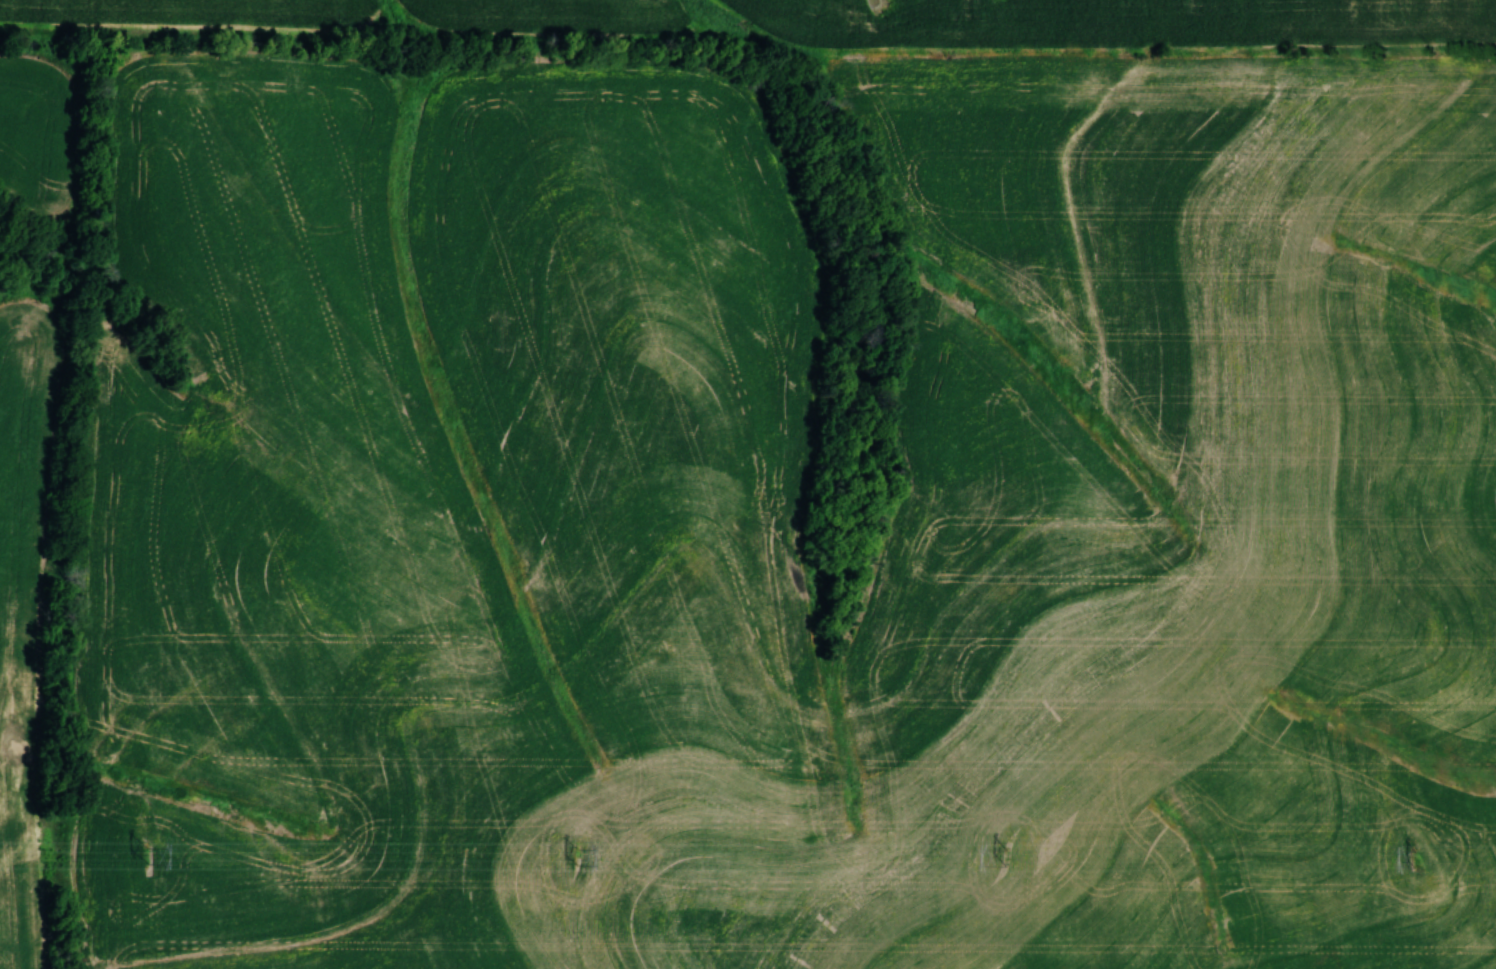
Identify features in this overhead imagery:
power tower: (146, 855)
power tower: (576, 857)
power tower: (1006, 857)
power tower: (1416, 859)

